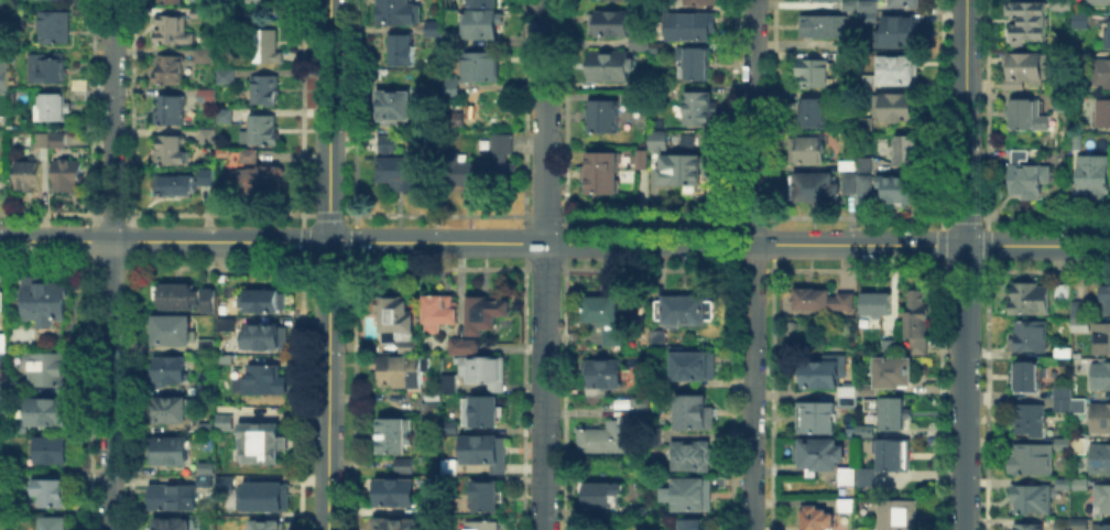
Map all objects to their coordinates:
building: (170, 0)
building: (259, 0)
building: (617, 0)
building: (830, 0)
building: (253, 1)
building: (1097, 1)
building: (79, 2)
building: (701, 2)
building: (904, 2)
building: (488, 3)
building: (1059, 3)
building: (848, 4)
building: (867, 4)
building: (79, 10)
building: (198, 11)
building: (401, 13)
building: (867, 17)
building: (1077, 18)
building: (1025, 19)
building: (54, 24)
building: (820, 24)
building: (483, 25)
building: (612, 25)
building: (432, 26)
building: (171, 28)
building: (693, 29)
building: (895, 31)
building: (3, 32)
building: (436, 32)
building: (1106, 33)
building: (846, 43)
building: (264, 44)
building: (405, 51)
building: (203, 54)
building: (846, 57)
building: (695, 65)
building: (46, 66)
building: (610, 66)
building: (167, 67)
building: (896, 67)
building: (1022, 67)
building: (483, 68)
building: (1100, 69)
building: (810, 71)
building: (3, 73)
building: (225, 74)
building: (863, 80)
building: (78, 82)
building: (264, 86)
building: (453, 90)
building: (77, 91)
building: (207, 93)
building: (831, 93)
building: (663, 94)
building: (1060, 100)
building: (52, 105)
building: (895, 105)
building: (396, 107)
building: (168, 108)
building: (700, 110)
building: (810, 110)
building: (1102, 110)
building: (1024, 112)
building: (222, 113)
building: (606, 119)
road: (327, 120)
building: (458, 121)
building: (863, 121)
building: (260, 129)
building: (207, 133)
building: (41, 138)
building: (56, 139)
building: (684, 140)
building: (663, 141)
building: (1075, 141)
building: (388, 145)
building: (805, 148)
building: (904, 148)
building: (168, 149)
building: (41, 151)
building: (247, 152)
building: (640, 158)
building: (644, 162)
building: (846, 163)
building: (864, 163)
building: (483, 167)
building: (26, 171)
building: (65, 172)
building: (683, 172)
building: (401, 173)
building: (1091, 173)
building: (1024, 174)
building: (259, 175)
building: (605, 175)
building: (181, 181)
building: (847, 181)
building: (812, 185)
building: (863, 187)
building: (897, 187)
road: (163, 241)
road: (718, 242)
road: (113, 264)
road: (545, 264)
road: (753, 264)
road: (965, 264)
building: (1064, 293)
building: (175, 298)
building: (1, 299)
building: (41, 299)
building: (1031, 299)
building: (211, 301)
building: (827, 302)
building: (1108, 302)
building: (262, 303)
building: (878, 306)
building: (599, 307)
building: (683, 309)
building: (229, 310)
building: (436, 310)
building: (482, 311)
building: (1081, 317)
building: (395, 320)
building: (917, 321)
building: (227, 326)
building: (172, 332)
building: (610, 335)
building: (656, 337)
building: (1031, 337)
building: (2, 340)
building: (264, 340)
building: (1103, 340)
building: (460, 344)
building: (891, 348)
building: (208, 349)
building: (1064, 353)
building: (228, 360)
building: (692, 364)
building: (45, 367)
building: (398, 368)
building: (481, 369)
building: (171, 371)
building: (600, 374)
building: (828, 374)
building: (894, 375)
building: (1030, 378)
building: (1102, 378)
building: (447, 381)
building: (660, 381)
building: (264, 383)
building: (2, 385)
building: (14, 385)
road: (327, 386)
building: (210, 391)
building: (868, 391)
building: (431, 392)
building: (1064, 396)
building: (1, 397)
building: (850, 398)
building: (620, 401)
building: (428, 404)
building: (638, 405)
building: (1080, 405)
building: (47, 409)
building: (483, 409)
building: (693, 411)
building: (177, 413)
building: (895, 415)
building: (819, 419)
building: (1101, 419)
building: (1032, 422)
building: (17, 425)
building: (448, 425)
building: (220, 429)
building: (392, 433)
building: (654, 434)
building: (870, 435)
building: (607, 436)
building: (1064, 442)
building: (263, 446)
building: (52, 447)
building: (482, 450)
building: (690, 453)
building: (166, 454)
building: (821, 456)
building: (895, 456)
building: (1032, 458)
building: (1101, 461)
building: (402, 463)
building: (447, 464)
building: (871, 477)
building: (20, 478)
building: (849, 480)
building: (224, 482)
building: (51, 489)
building: (391, 490)
building: (690, 490)
building: (600, 491)
building: (483, 495)
building: (269, 497)
building: (174, 499)
building: (1033, 500)
building: (1103, 500)
building: (848, 507)
building: (429, 508)
building: (636, 509)
building: (897, 517)
building: (820, 520)
building: (52, 522)
building: (395, 522)
building: (692, 523)
building: (174, 524)
building: (482, 524)
building: (1030, 527)
building: (265, 528)
building: (1102, 528)
building: (864, 529)

